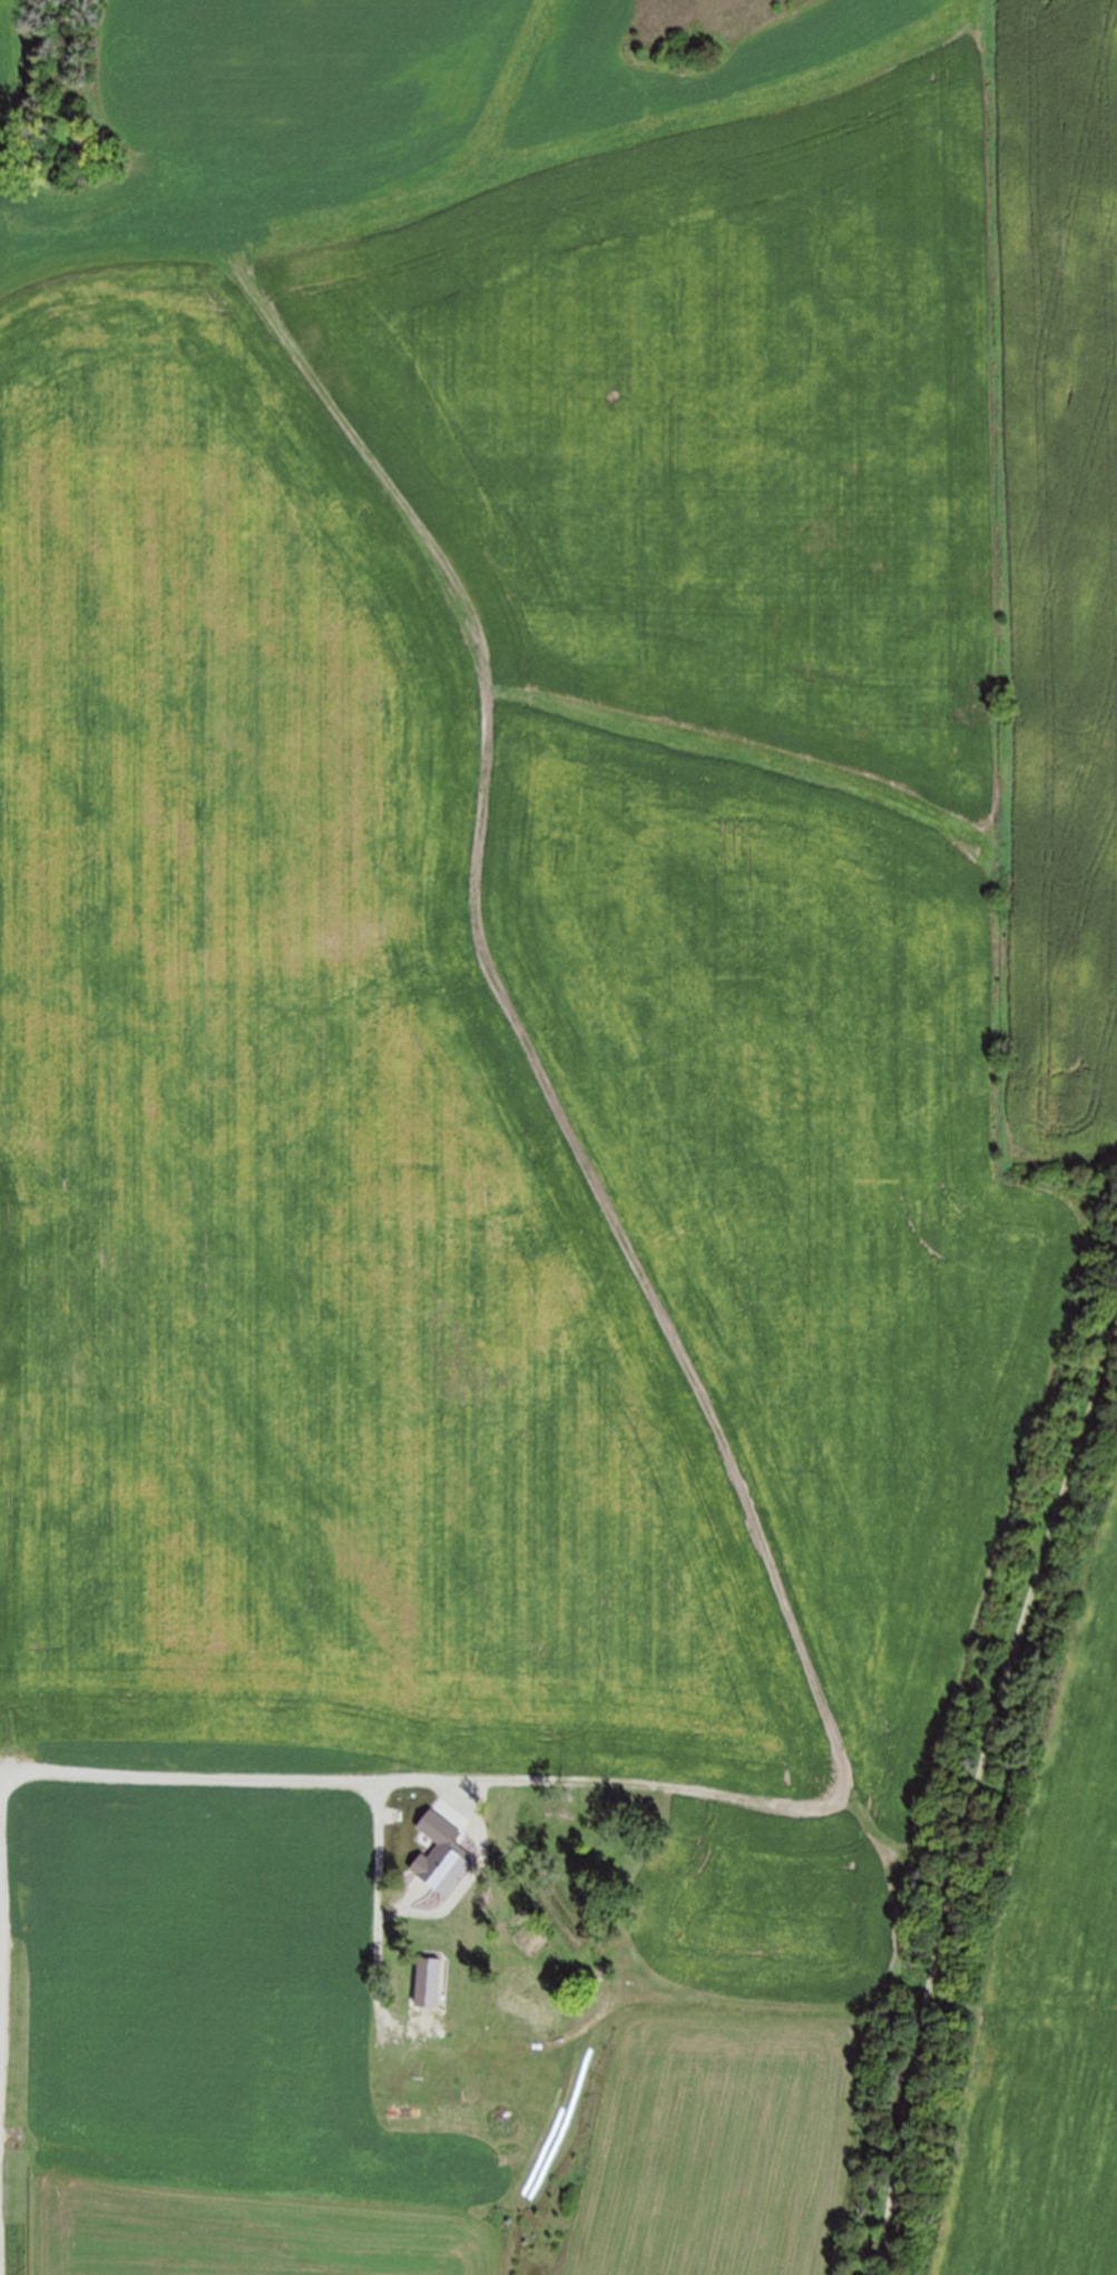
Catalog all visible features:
road: (978, 1800)
building: (577, 1902)
building: (449, 1992)
road: (549, 2134)

